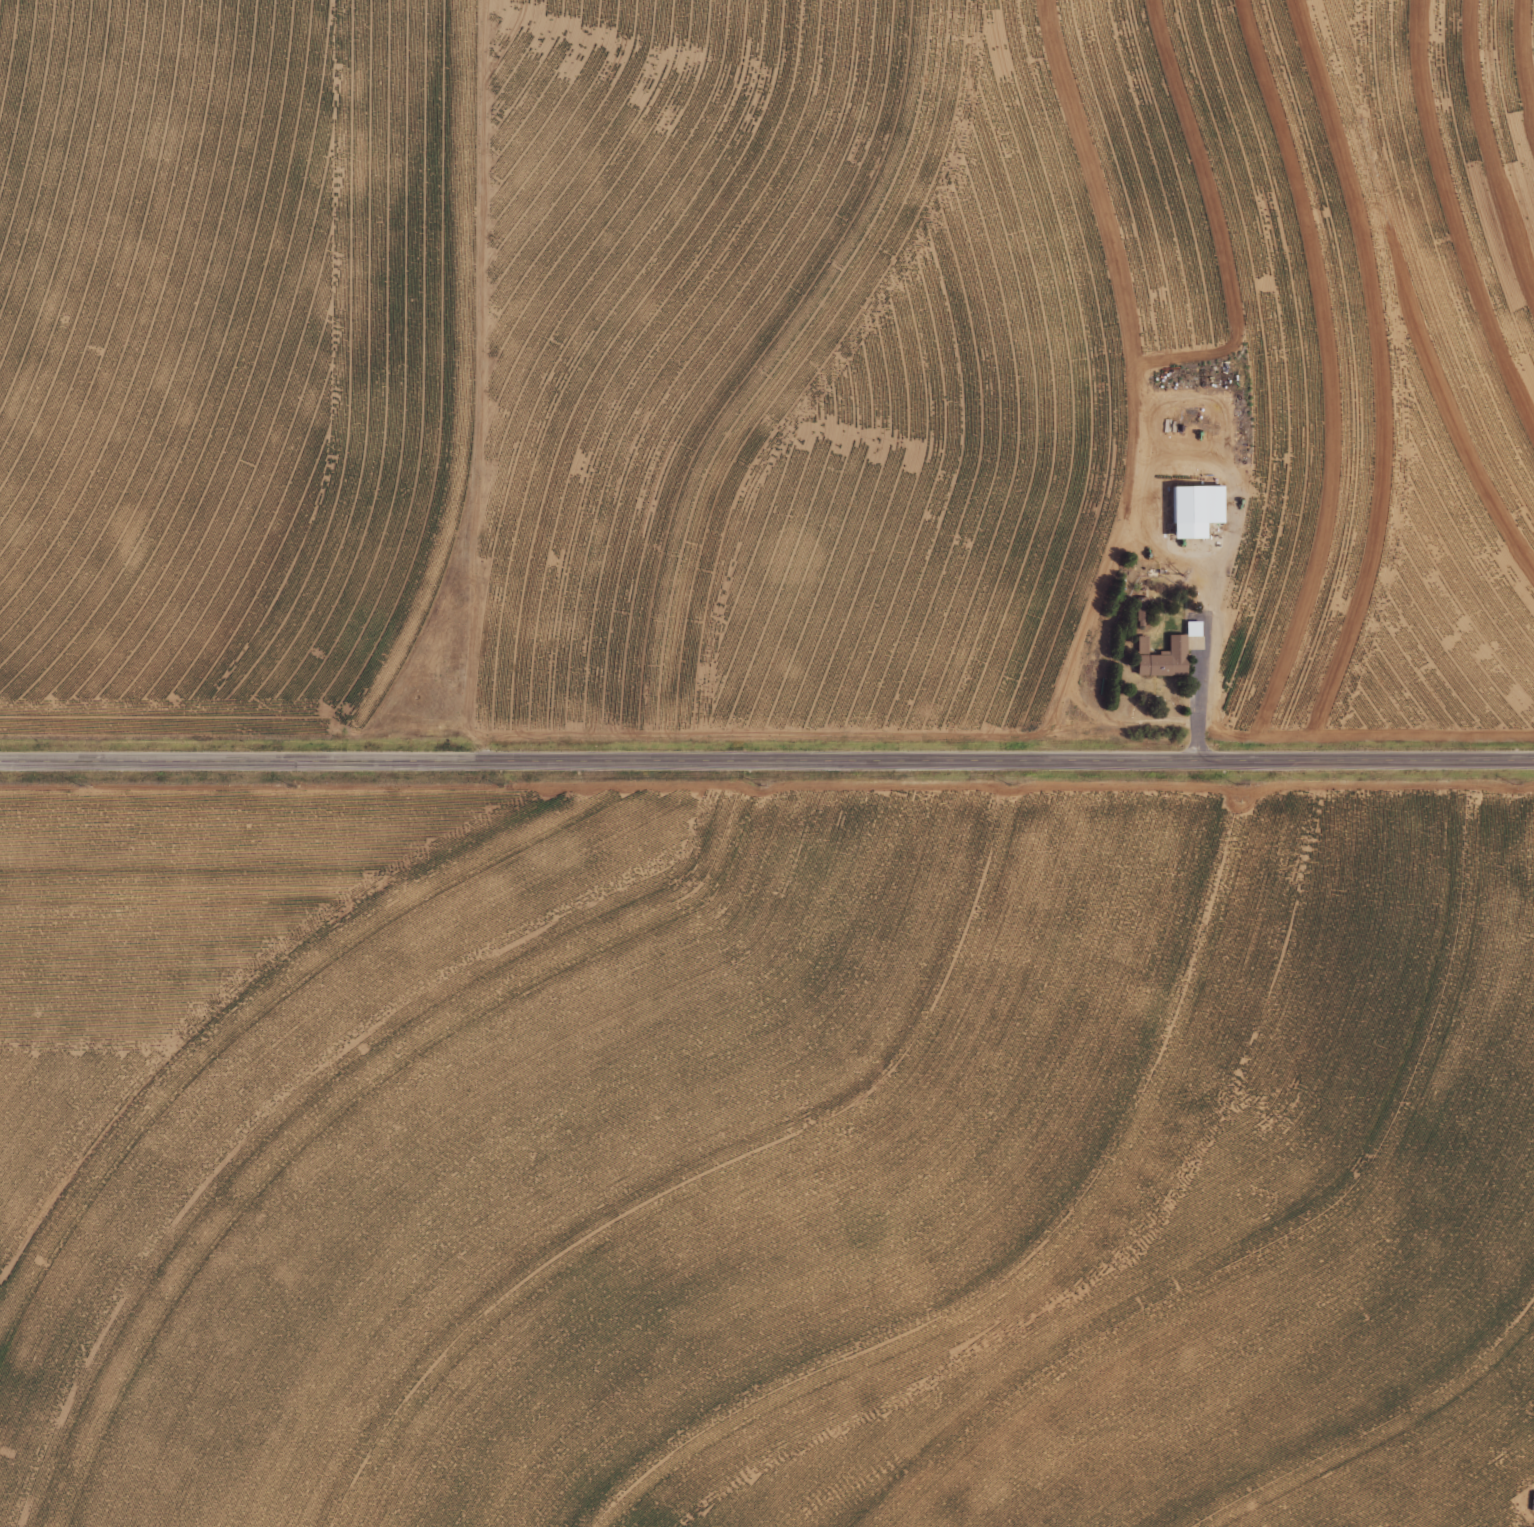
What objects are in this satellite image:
building: (1189, 509)
building: (1166, 652)
road: (1197, 701)
road: (766, 759)

